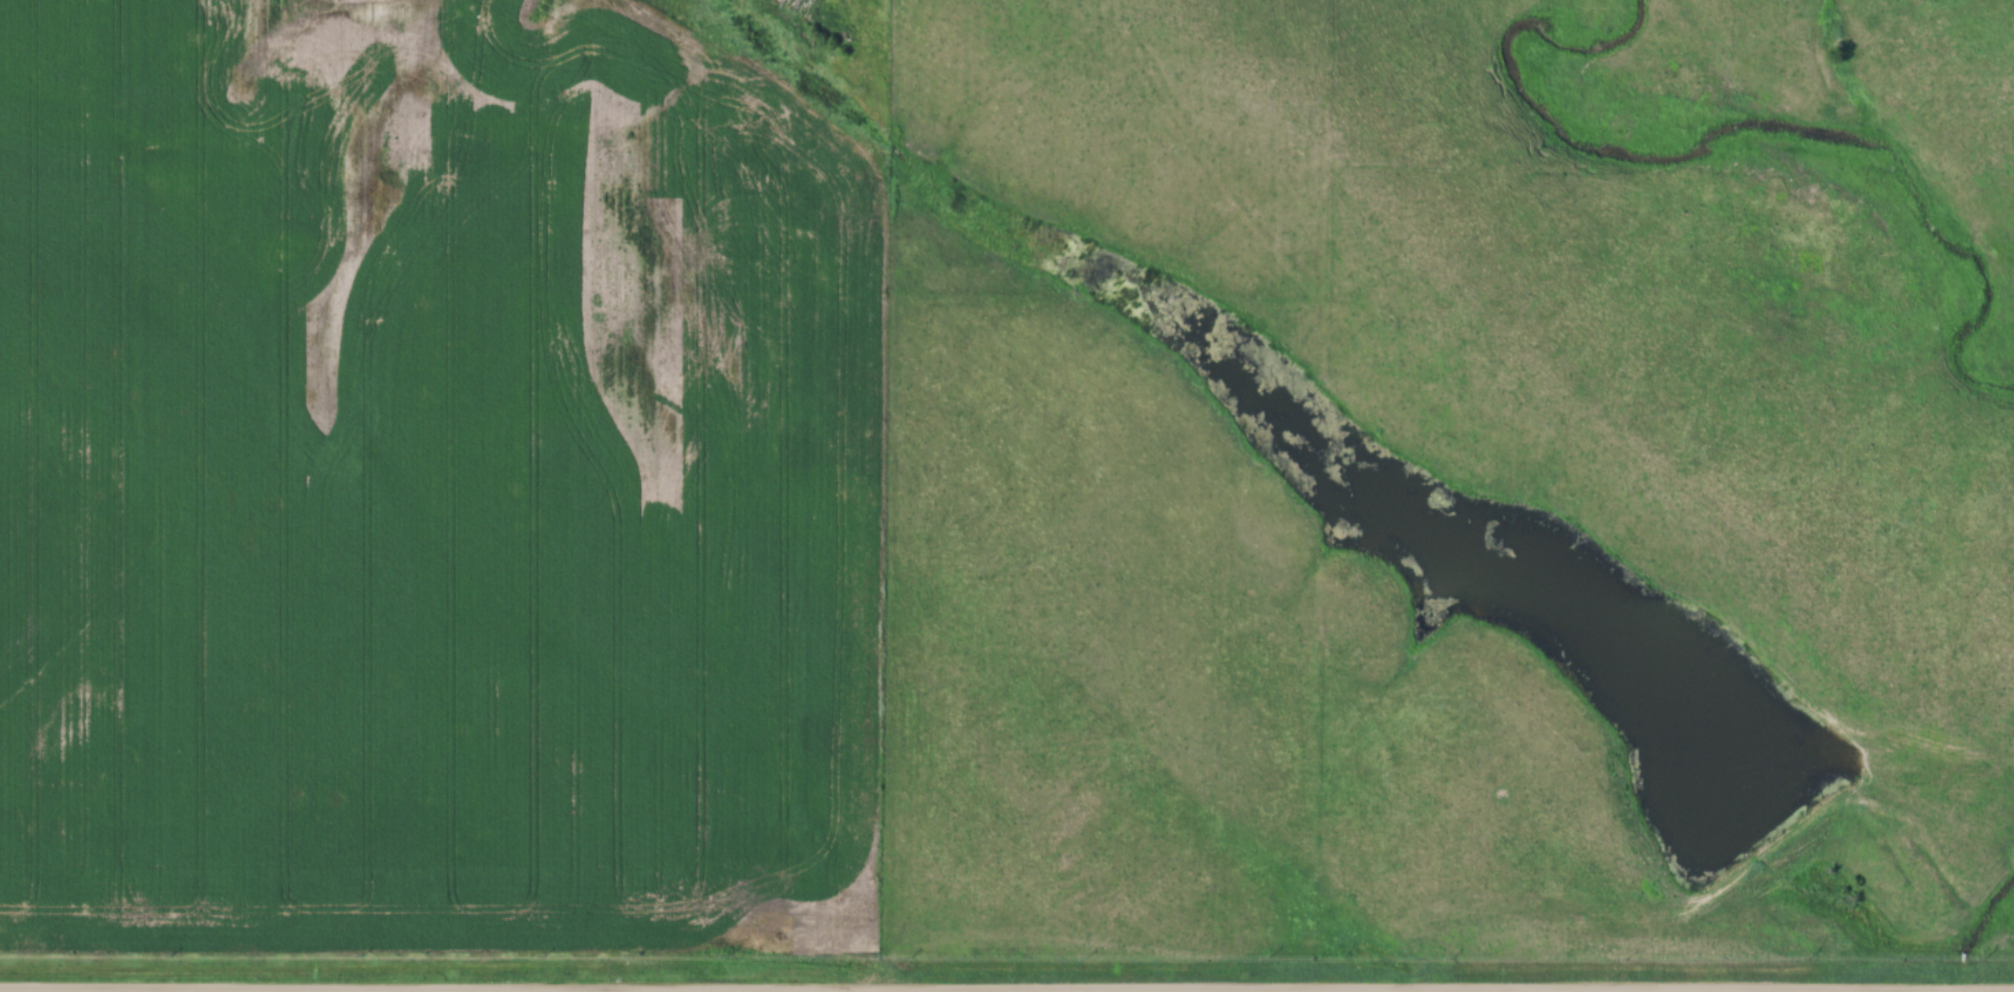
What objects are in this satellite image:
road: (397, 991)

